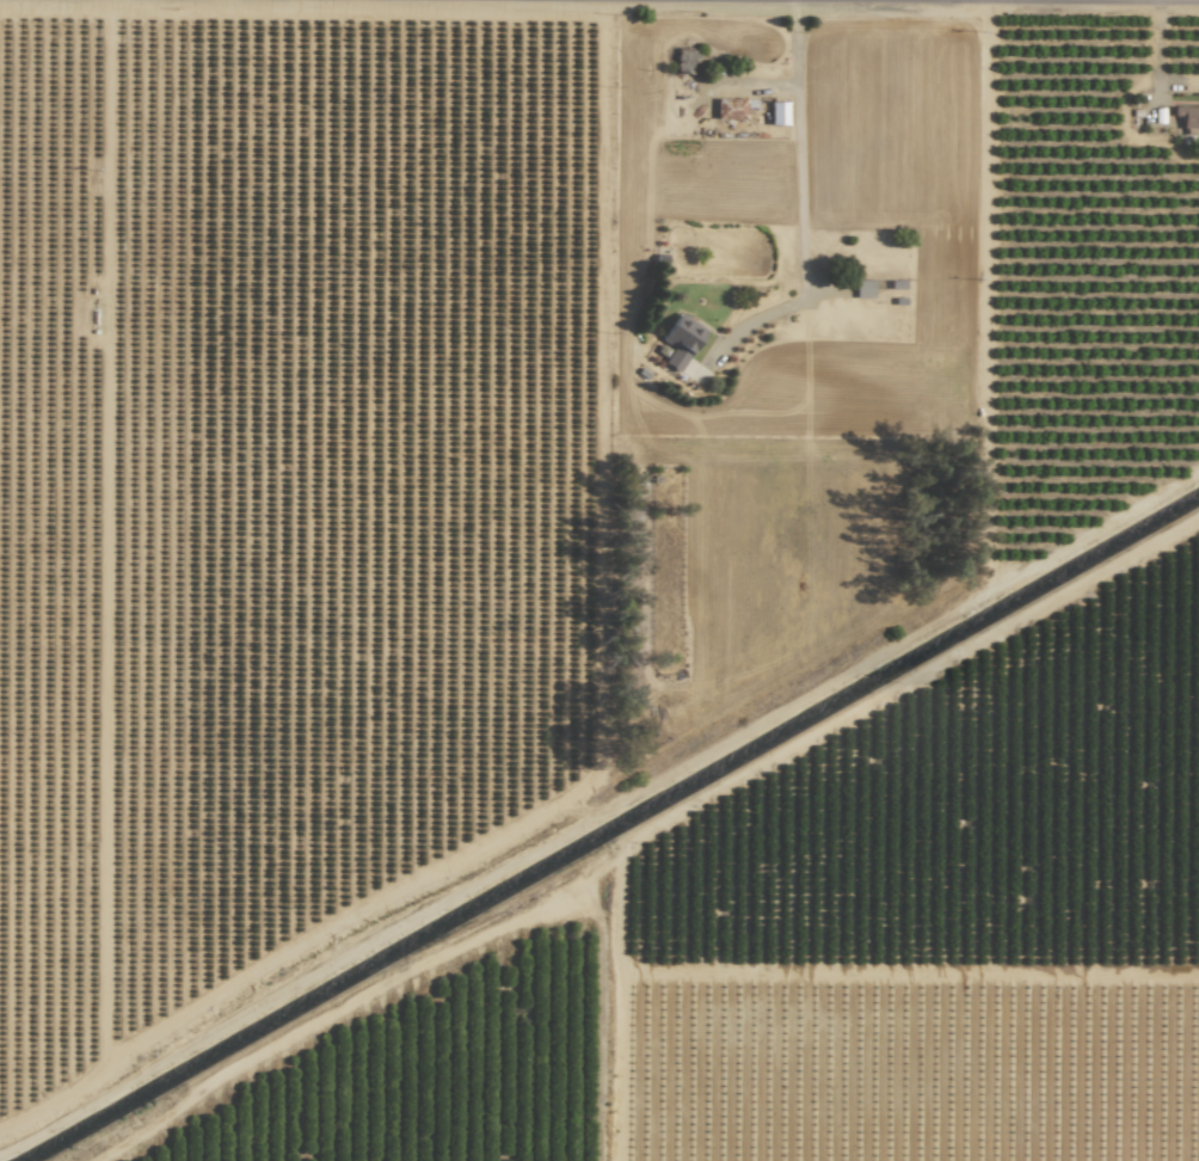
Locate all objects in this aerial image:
road: (1156, 56)
building: (731, 109)
building: (779, 113)
building: (1188, 118)
road: (799, 142)
building: (865, 288)
building: (681, 342)

